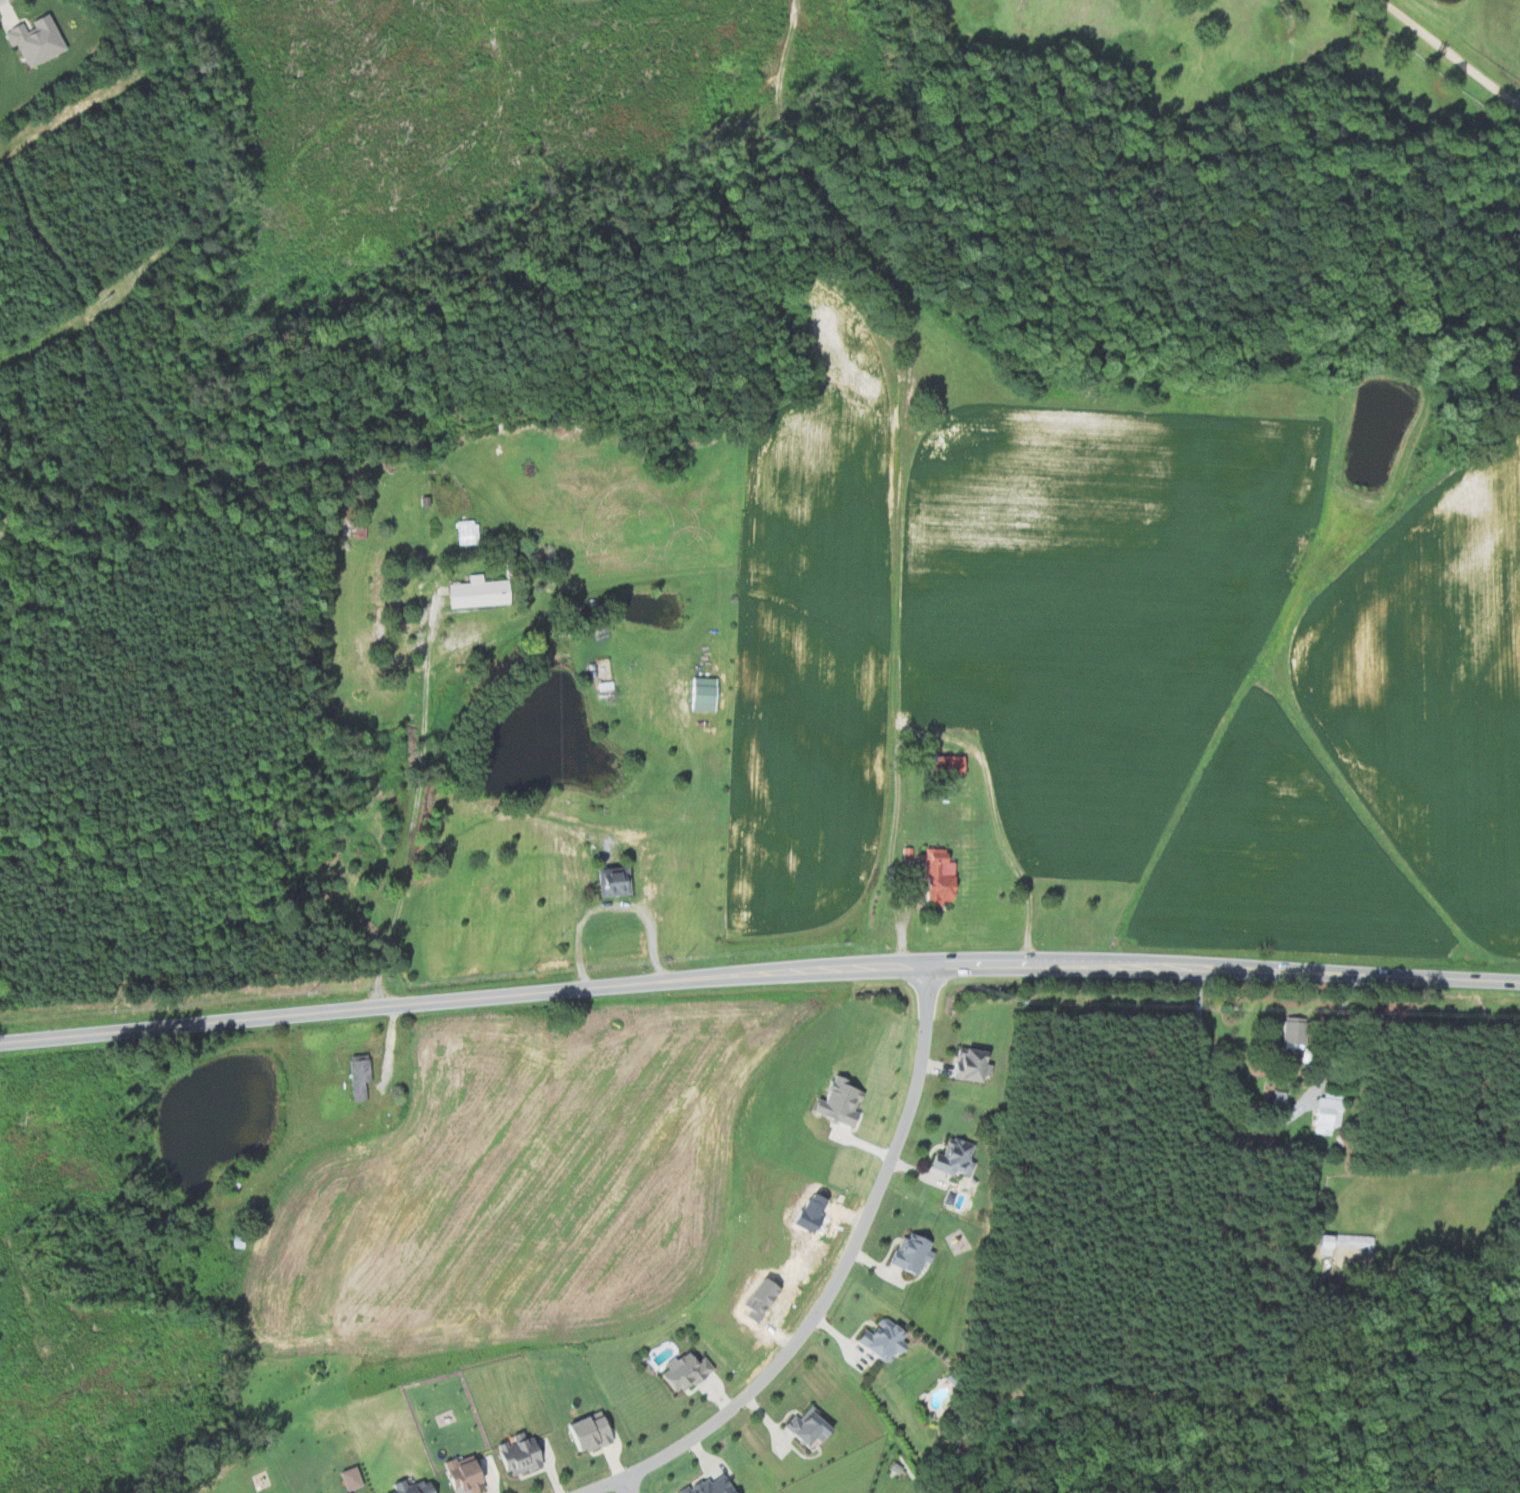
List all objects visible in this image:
building: (40, 41)
road: (1449, 55)
building: (468, 531)
building: (483, 591)
building: (709, 693)
road: (937, 734)
building: (957, 764)
road: (414, 798)
building: (944, 874)
building: (618, 881)
road: (612, 909)
road: (759, 980)
building: (1297, 1032)
building: (973, 1064)
building: (363, 1077)
building: (844, 1100)
road: (1206, 1103)
building: (1323, 1113)
building: (958, 1157)
building: (1344, 1242)
building: (915, 1252)
road: (833, 1282)
building: (888, 1339)
building: (690, 1371)
building: (814, 1427)
building: (525, 1456)
building: (472, 1475)
building: (355, 1478)
road: (627, 1485)
building: (405, 1486)
building: (715, 1486)

